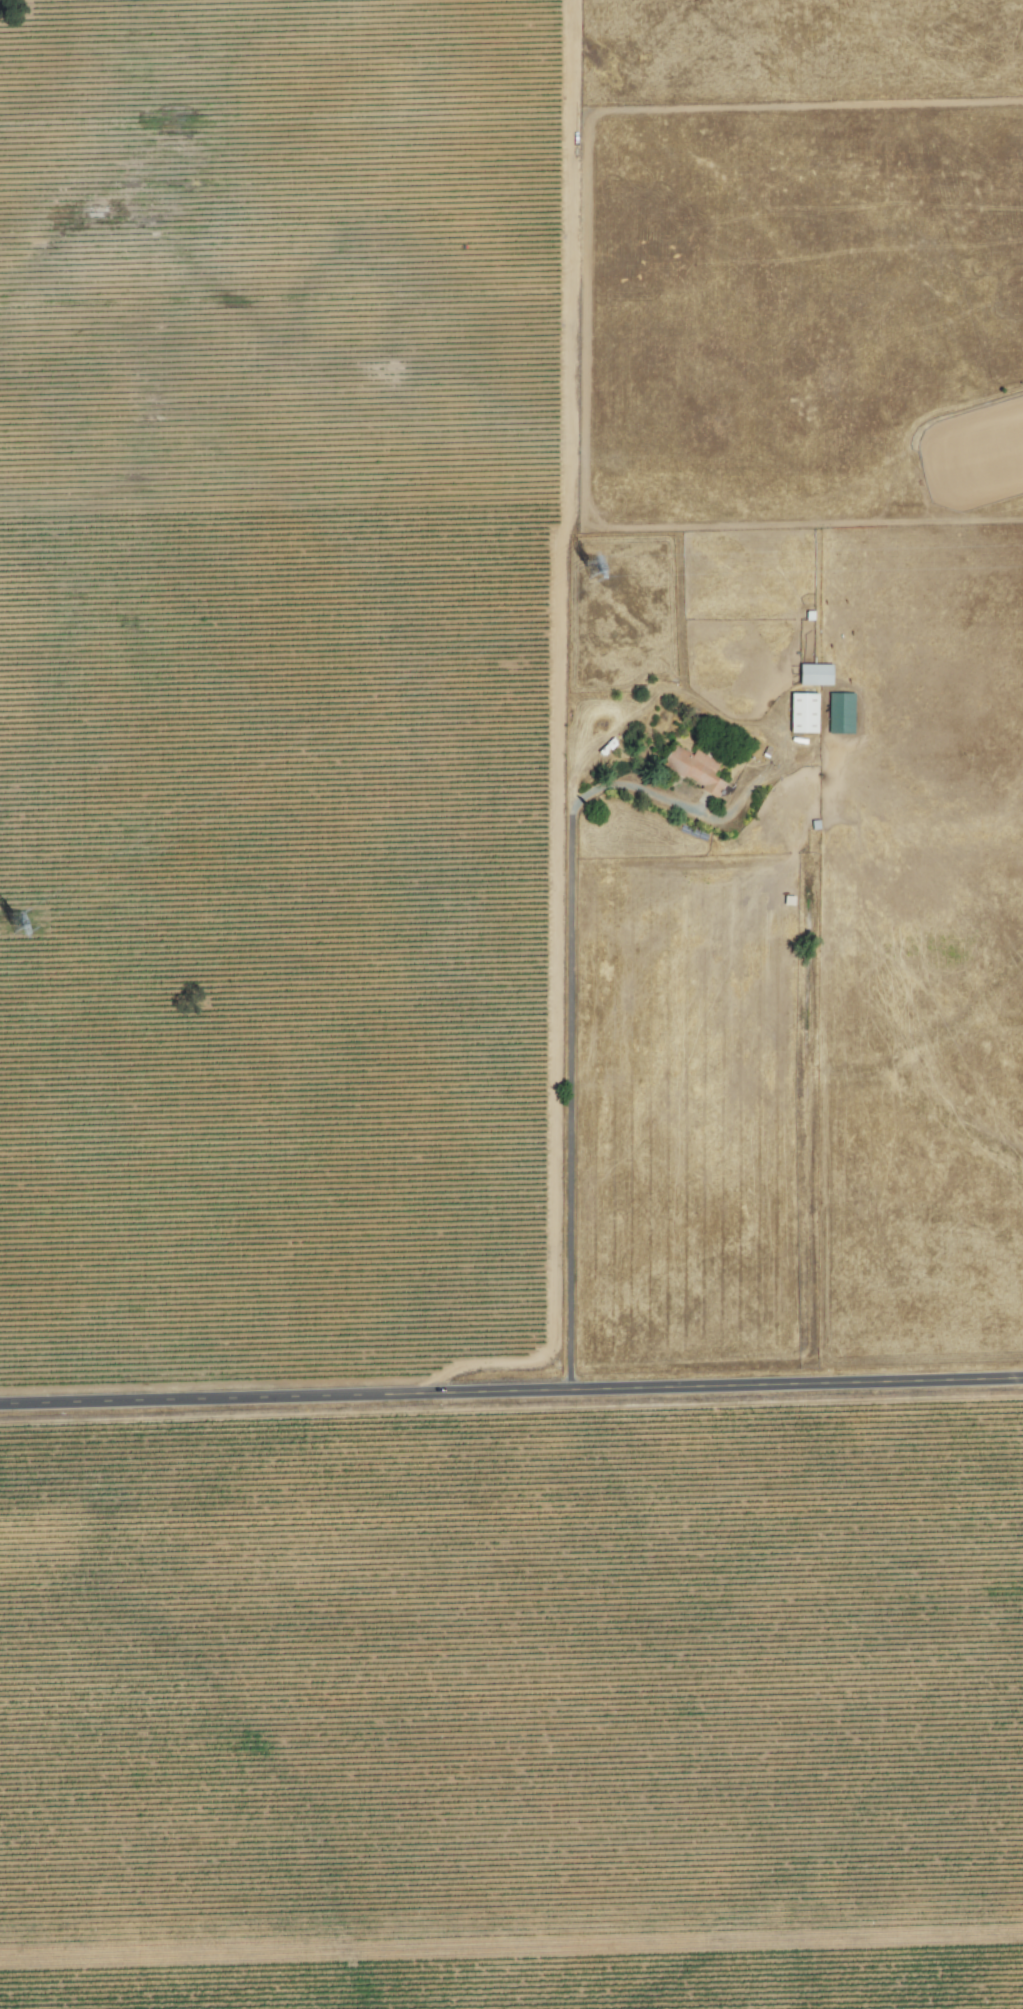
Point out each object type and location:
power tower: (592, 568)
building: (814, 673)
building: (802, 711)
building: (840, 711)
building: (692, 767)
power tower: (25, 922)
road: (573, 1045)
road: (511, 1392)

